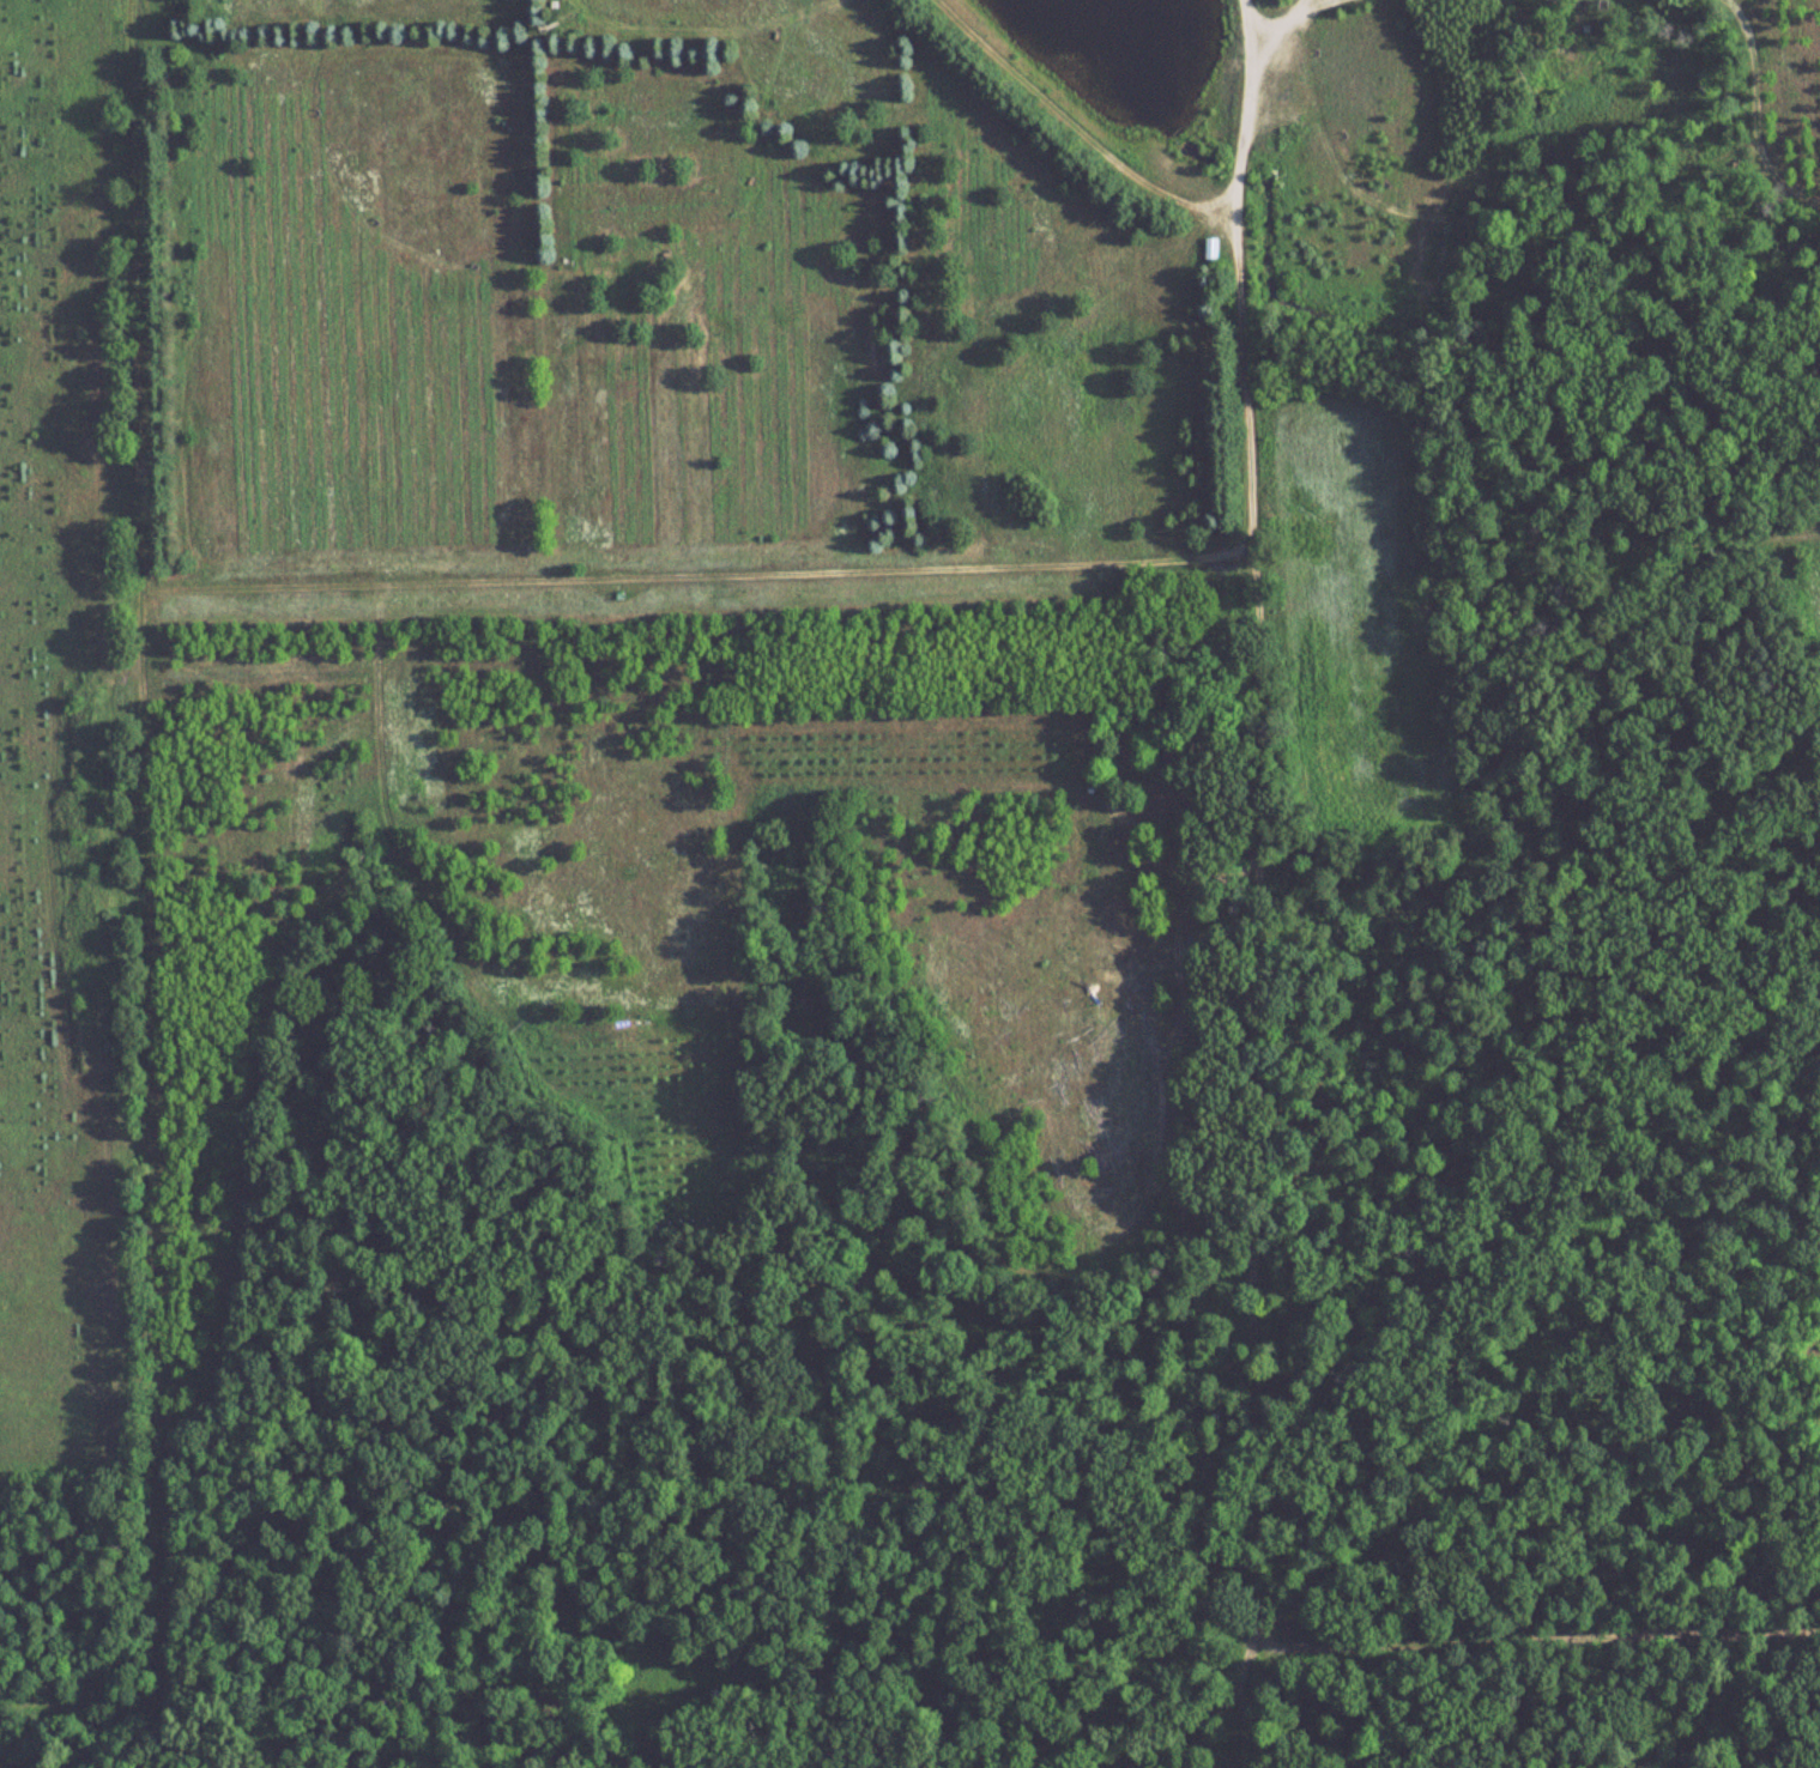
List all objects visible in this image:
building: (1183, 751)

